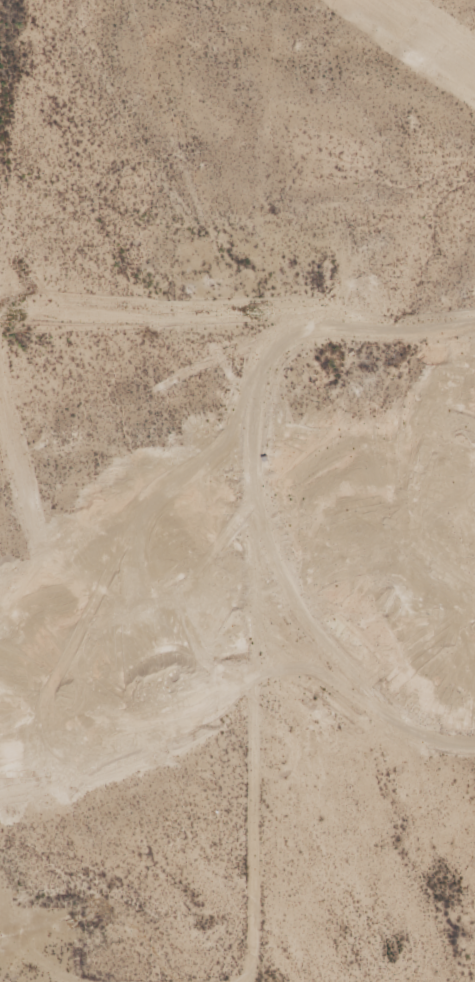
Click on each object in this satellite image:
road: (221, 552)

